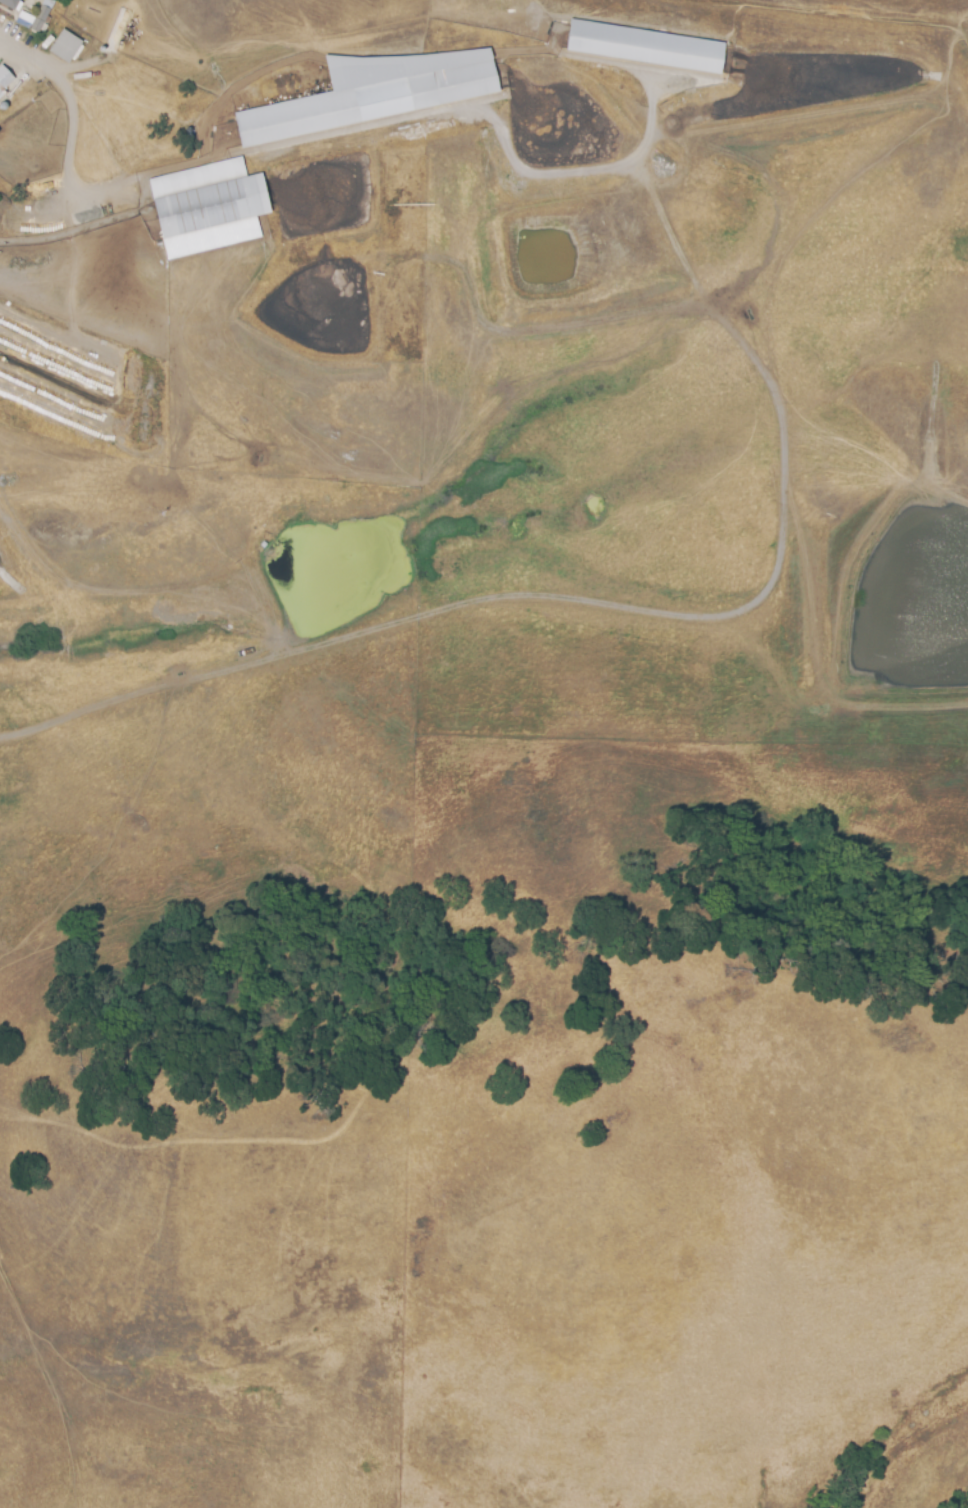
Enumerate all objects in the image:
building: (10, 3)
building: (42, 15)
building: (67, 46)
building: (646, 46)
building: (2, 88)
road: (69, 93)
building: (373, 96)
building: (212, 208)
road: (781, 450)

